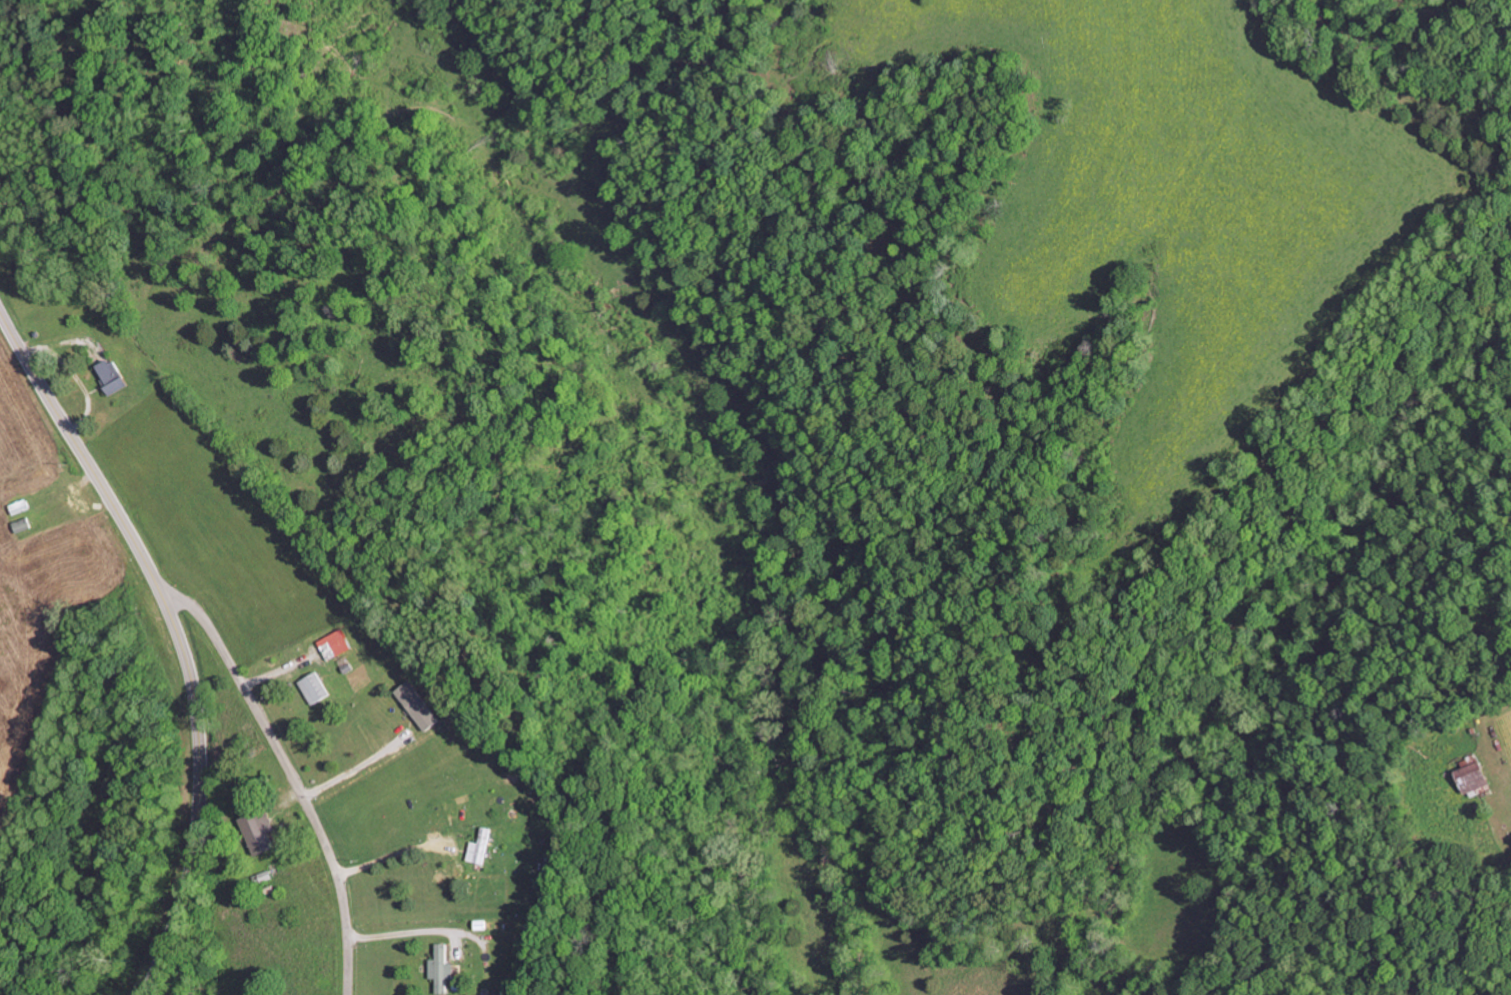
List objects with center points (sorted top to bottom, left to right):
building: (113, 376)
building: (20, 524)
road: (176, 634)
building: (314, 688)
building: (418, 705)
road: (293, 774)
building: (1473, 777)
building: (260, 832)
building: (480, 847)
building: (440, 968)

